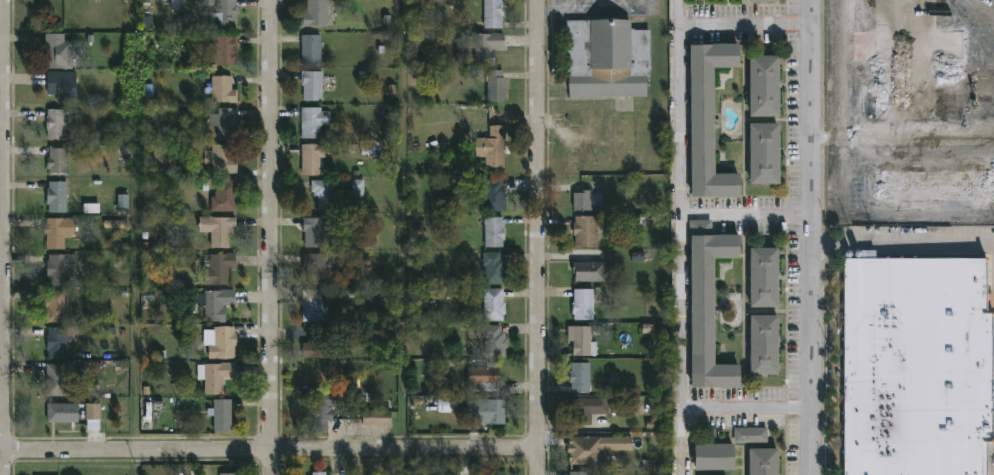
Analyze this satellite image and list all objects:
building: (763, 0)
building: (176, 5)
road: (593, 10)
building: (317, 13)
building: (495, 13)
building: (225, 15)
road: (746, 21)
building: (487, 47)
building: (313, 49)
building: (225, 50)
building: (60, 51)
building: (909, 56)
building: (605, 58)
road: (842, 69)
building: (763, 83)
building: (313, 85)
building: (64, 86)
building: (497, 86)
building: (224, 89)
building: (707, 118)
building: (315, 121)
building: (226, 122)
building: (58, 124)
road: (905, 138)
building: (497, 148)
building: (763, 152)
building: (313, 158)
building: (223, 159)
building: (59, 161)
building: (930, 184)
building: (492, 193)
building: (326, 194)
building: (227, 196)
building: (58, 197)
building: (123, 201)
building: (584, 201)
road: (747, 211)
building: (220, 230)
building: (318, 231)
building: (587, 231)
building: (59, 232)
building: (496, 232)
road: (272, 237)
road: (535, 237)
road: (678, 237)
road: (814, 237)
road: (922, 244)
building: (219, 268)
building: (317, 268)
building: (496, 268)
building: (62, 269)
building: (591, 271)
building: (763, 275)
building: (217, 303)
building: (494, 304)
building: (707, 304)
building: (586, 305)
building: (56, 306)
building: (315, 306)
road: (3, 325)
building: (496, 341)
building: (584, 341)
building: (58, 342)
building: (222, 342)
building: (321, 344)
building: (762, 344)
building: (916, 365)
building: (217, 376)
building: (582, 377)
building: (487, 378)
building: (60, 380)
road: (747, 408)
building: (323, 410)
building: (588, 410)
building: (494, 412)
building: (64, 413)
building: (223, 415)
building: (94, 416)
building: (380, 418)
building: (747, 436)
building: (596, 449)
road: (266, 450)
building: (709, 458)
building: (758, 462)
building: (583, 473)
building: (227, 474)
building: (321, 474)
building: (342, 474)

